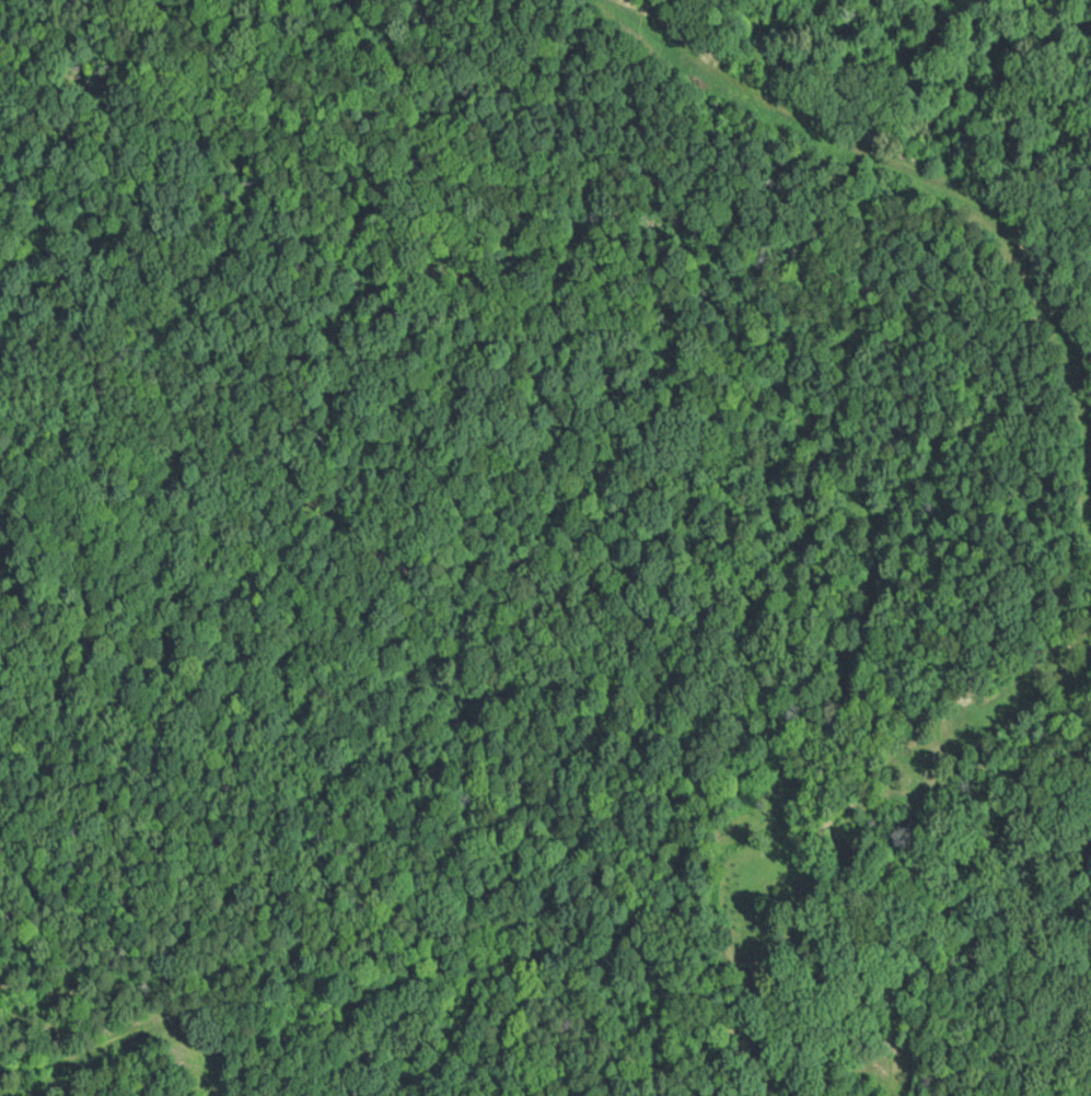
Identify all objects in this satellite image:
road: (787, 672)

